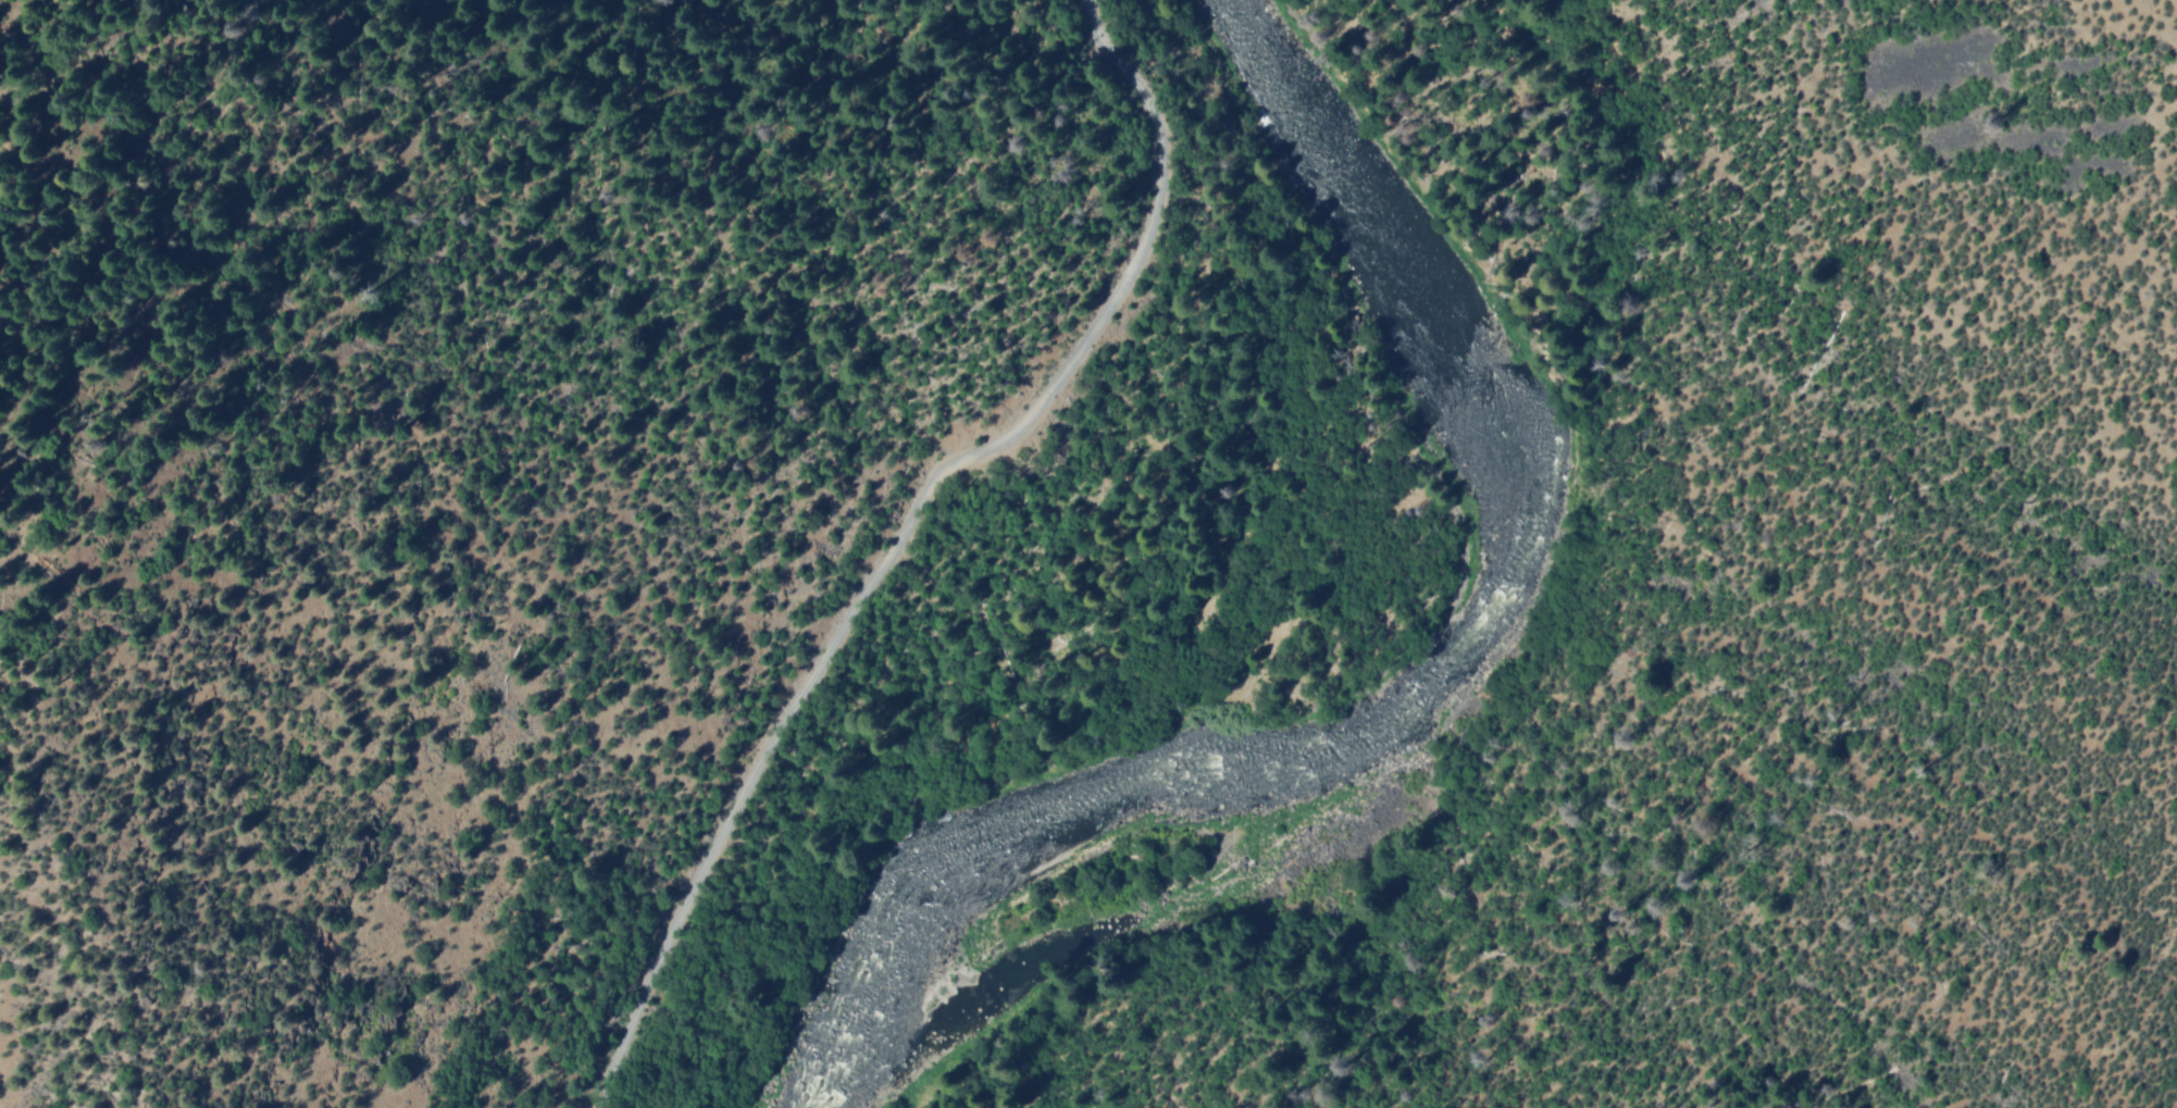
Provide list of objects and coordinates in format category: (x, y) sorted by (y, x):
road: (898, 528)
river: (1417, 695)

